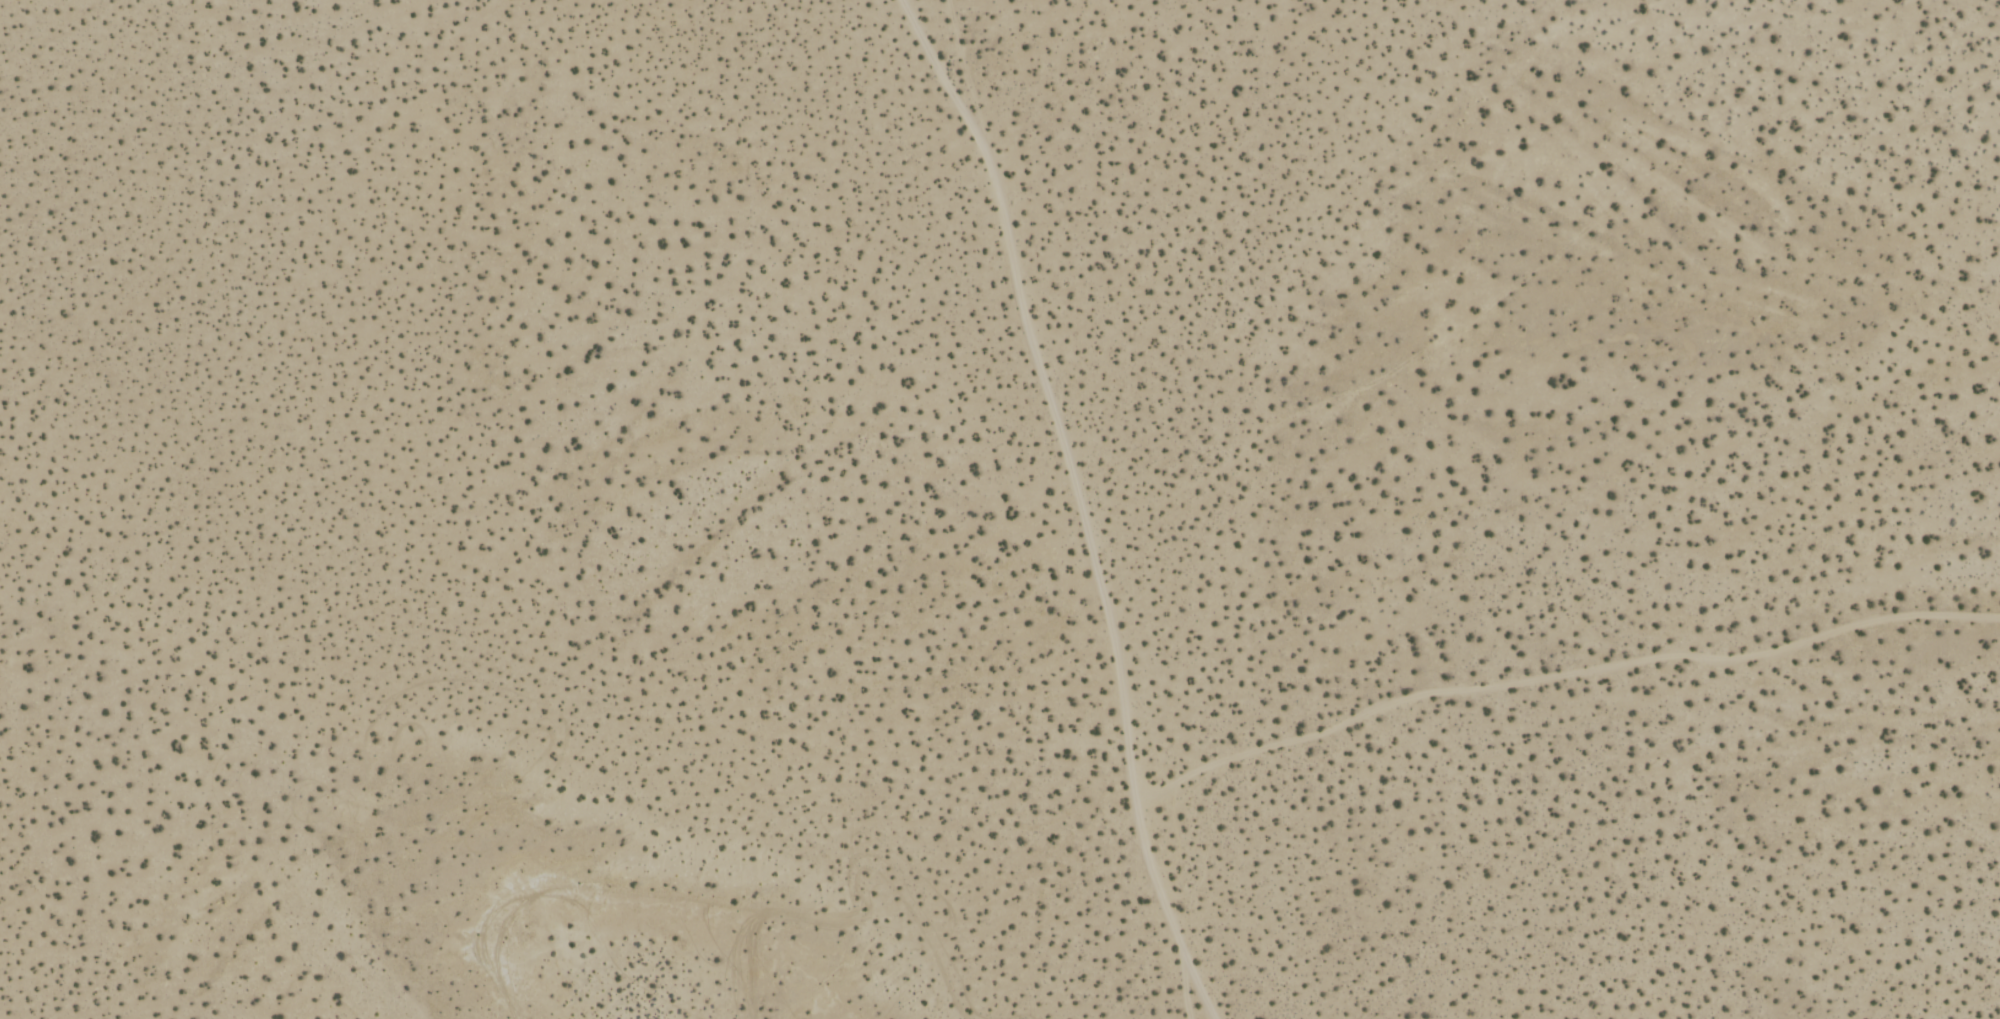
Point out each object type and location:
road: (1064, 505)

